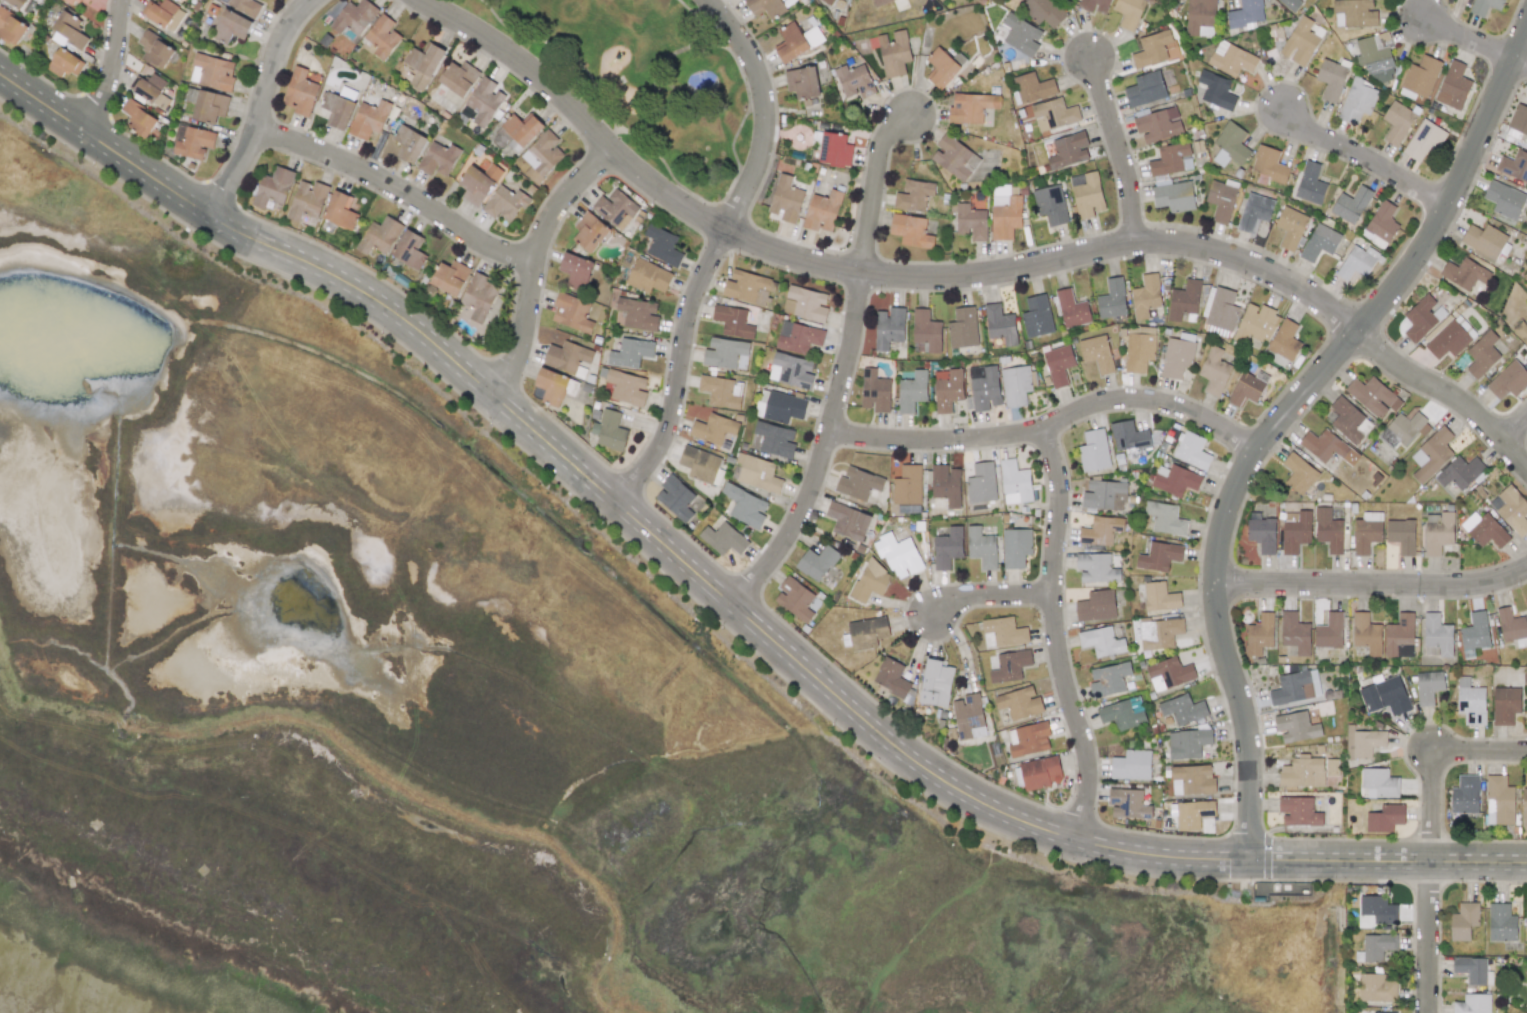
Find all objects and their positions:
building: (69, 1)
building: (86, 1)
building: (193, 1)
building: (828, 2)
building: (881, 2)
building: (17, 3)
building: (1291, 4)
building: (1095, 5)
building: (246, 6)
building: (1485, 6)
building: (765, 7)
building: (334, 9)
building: (1044, 11)
building: (1129, 12)
building: (1354, 13)
building: (163, 14)
building: (1245, 14)
building: (354, 17)
building: (1200, 18)
building: (231, 26)
building: (11, 28)
building: (69, 29)
building: (1021, 35)
building: (382, 36)
road: (1470, 36)
building: (1300, 43)
building: (1151, 49)
building: (155, 50)
building: (894, 53)
building: (1375, 56)
building: (1231, 58)
road: (1520, 60)
building: (65, 63)
building: (423, 64)
road: (114, 68)
building: (941, 68)
building: (212, 72)
building: (1421, 75)
building: (458, 78)
park: (646, 80)
building: (1331, 80)
building: (854, 81)
building: (802, 82)
building: (1453, 86)
building: (1032, 87)
building: (1145, 89)
building: (1216, 90)
building: (150, 91)
building: (299, 91)
building: (347, 93)
road: (1249, 99)
building: (484, 101)
building: (1357, 101)
building: (210, 106)
road: (262, 106)
building: (971, 107)
road: (763, 109)
building: (337, 110)
building: (1054, 114)
building: (139, 119)
building: (368, 119)
building: (1519, 119)
building: (1397, 122)
building: (1158, 124)
building: (521, 130)
building: (1424, 140)
building: (194, 143)
road: (107, 144)
building: (409, 144)
building: (1230, 145)
road: (1119, 148)
building: (834, 149)
building: (1068, 150)
building: (542, 156)
building: (954, 158)
building: (438, 159)
building: (1268, 166)
building: (1514, 166)
building: (1159, 177)
building: (478, 183)
building: (1310, 183)
road: (874, 185)
building: (273, 187)
road: (399, 188)
building: (1087, 194)
building: (913, 196)
building: (786, 199)
building: (1221, 199)
building: (307, 200)
building: (1504, 200)
building: (505, 203)
building: (1050, 205)
building: (1351, 205)
building: (614, 208)
building: (340, 210)
building: (822, 211)
building: (1254, 211)
building: (1004, 213)
building: (970, 221)
building: (1381, 225)
building: (1290, 227)
building: (911, 231)
building: (589, 232)
building: (379, 236)
building: (1486, 241)
building: (1320, 242)
building: (662, 245)
building: (409, 249)
building: (1357, 262)
road: (535, 263)
building: (575, 271)
road: (970, 274)
building: (1464, 274)
building: (648, 276)
building: (450, 277)
building: (746, 287)
building: (478, 296)
building: (1145, 296)
building: (1112, 299)
building: (1183, 300)
building: (805, 303)
building: (1071, 309)
building: (1220, 309)
building: (571, 313)
building: (638, 314)
building: (1037, 316)
building: (1422, 318)
building: (733, 321)
building: (1000, 324)
building: (1256, 324)
building: (889, 328)
building: (963, 328)
building: (926, 331)
building: (1521, 331)
building: (798, 337)
building: (1284, 340)
building: (1448, 340)
building: (1139, 348)
building: (631, 352)
building: (724, 352)
building: (1097, 353)
building: (1482, 354)
building: (568, 357)
building: (1176, 357)
building: (1058, 365)
road: (679, 367)
building: (791, 370)
building: (1214, 371)
building: (1508, 380)
building: (1016, 385)
building: (551, 386)
building: (626, 387)
building: (984, 387)
building: (1247, 387)
building: (947, 389)
building: (721, 391)
building: (875, 391)
building: (912, 391)
building: (1373, 396)
road: (1283, 415)
building: (1349, 421)
road: (1050, 426)
building: (1407, 427)
road: (1515, 428)
building: (713, 429)
building: (609, 430)
building: (775, 439)
building: (1130, 439)
road: (824, 447)
building: (1327, 447)
building: (1094, 450)
building: (1192, 450)
building: (1431, 455)
building: (700, 464)
building: (1459, 472)
building: (757, 473)
building: (1298, 473)
building: (1175, 480)
building: (1014, 482)
building: (858, 483)
building: (981, 483)
building: (907, 485)
building: (945, 487)
building: (1104, 495)
building: (675, 498)
building: (745, 506)
building: (1511, 509)
building: (1165, 518)
building: (848, 521)
building: (1484, 529)
building: (1100, 530)
building: (1328, 530)
building: (1295, 531)
building: (1366, 532)
building: (1437, 532)
building: (1261, 533)
building: (1401, 535)
building: (723, 539)
building: (982, 547)
building: (1015, 547)
building: (947, 548)
building: (901, 552)
building: (1159, 556)
building: (816, 562)
building: (1096, 568)
building: (870, 581)
road: (1374, 583)
road: (991, 594)
building: (1159, 596)
building: (795, 599)
building: (1096, 606)
building: (1512, 627)
building: (1004, 631)
building: (1329, 632)
building: (867, 633)
building: (1295, 633)
building: (1259, 634)
building: (1366, 634)
building: (1474, 634)
road: (1056, 635)
building: (1436, 636)
building: (1399, 637)
building: (1101, 641)
building: (1009, 666)
building: (1169, 674)
road: (817, 677)
building: (891, 677)
building: (1108, 679)
building: (935, 683)
building: (1295, 687)
building: (1428, 687)
building: (1385, 696)
building: (1470, 702)
building: (1019, 703)
building: (1505, 705)
building: (1183, 709)
building: (1123, 713)
building: (968, 716)
building: (1295, 726)
building: (1030, 739)
building: (1363, 742)
building: (1187, 743)
road: (1434, 760)
building: (1131, 765)
building: (1331, 767)
building: (1040, 772)
building: (1302, 772)
building: (1192, 780)
building: (1378, 783)
building: (1465, 794)
building: (1524, 803)
building: (1128, 804)
building: (1298, 811)
building: (1192, 814)
building: (1385, 818)
building: (1378, 909)
building: (1464, 920)
building: (1501, 923)
building: (1525, 927)
road: (1430, 937)
building: (1376, 947)
building: (1472, 970)
building: (1377, 988)
building: (1472, 1004)
building: (1388, 1012)

